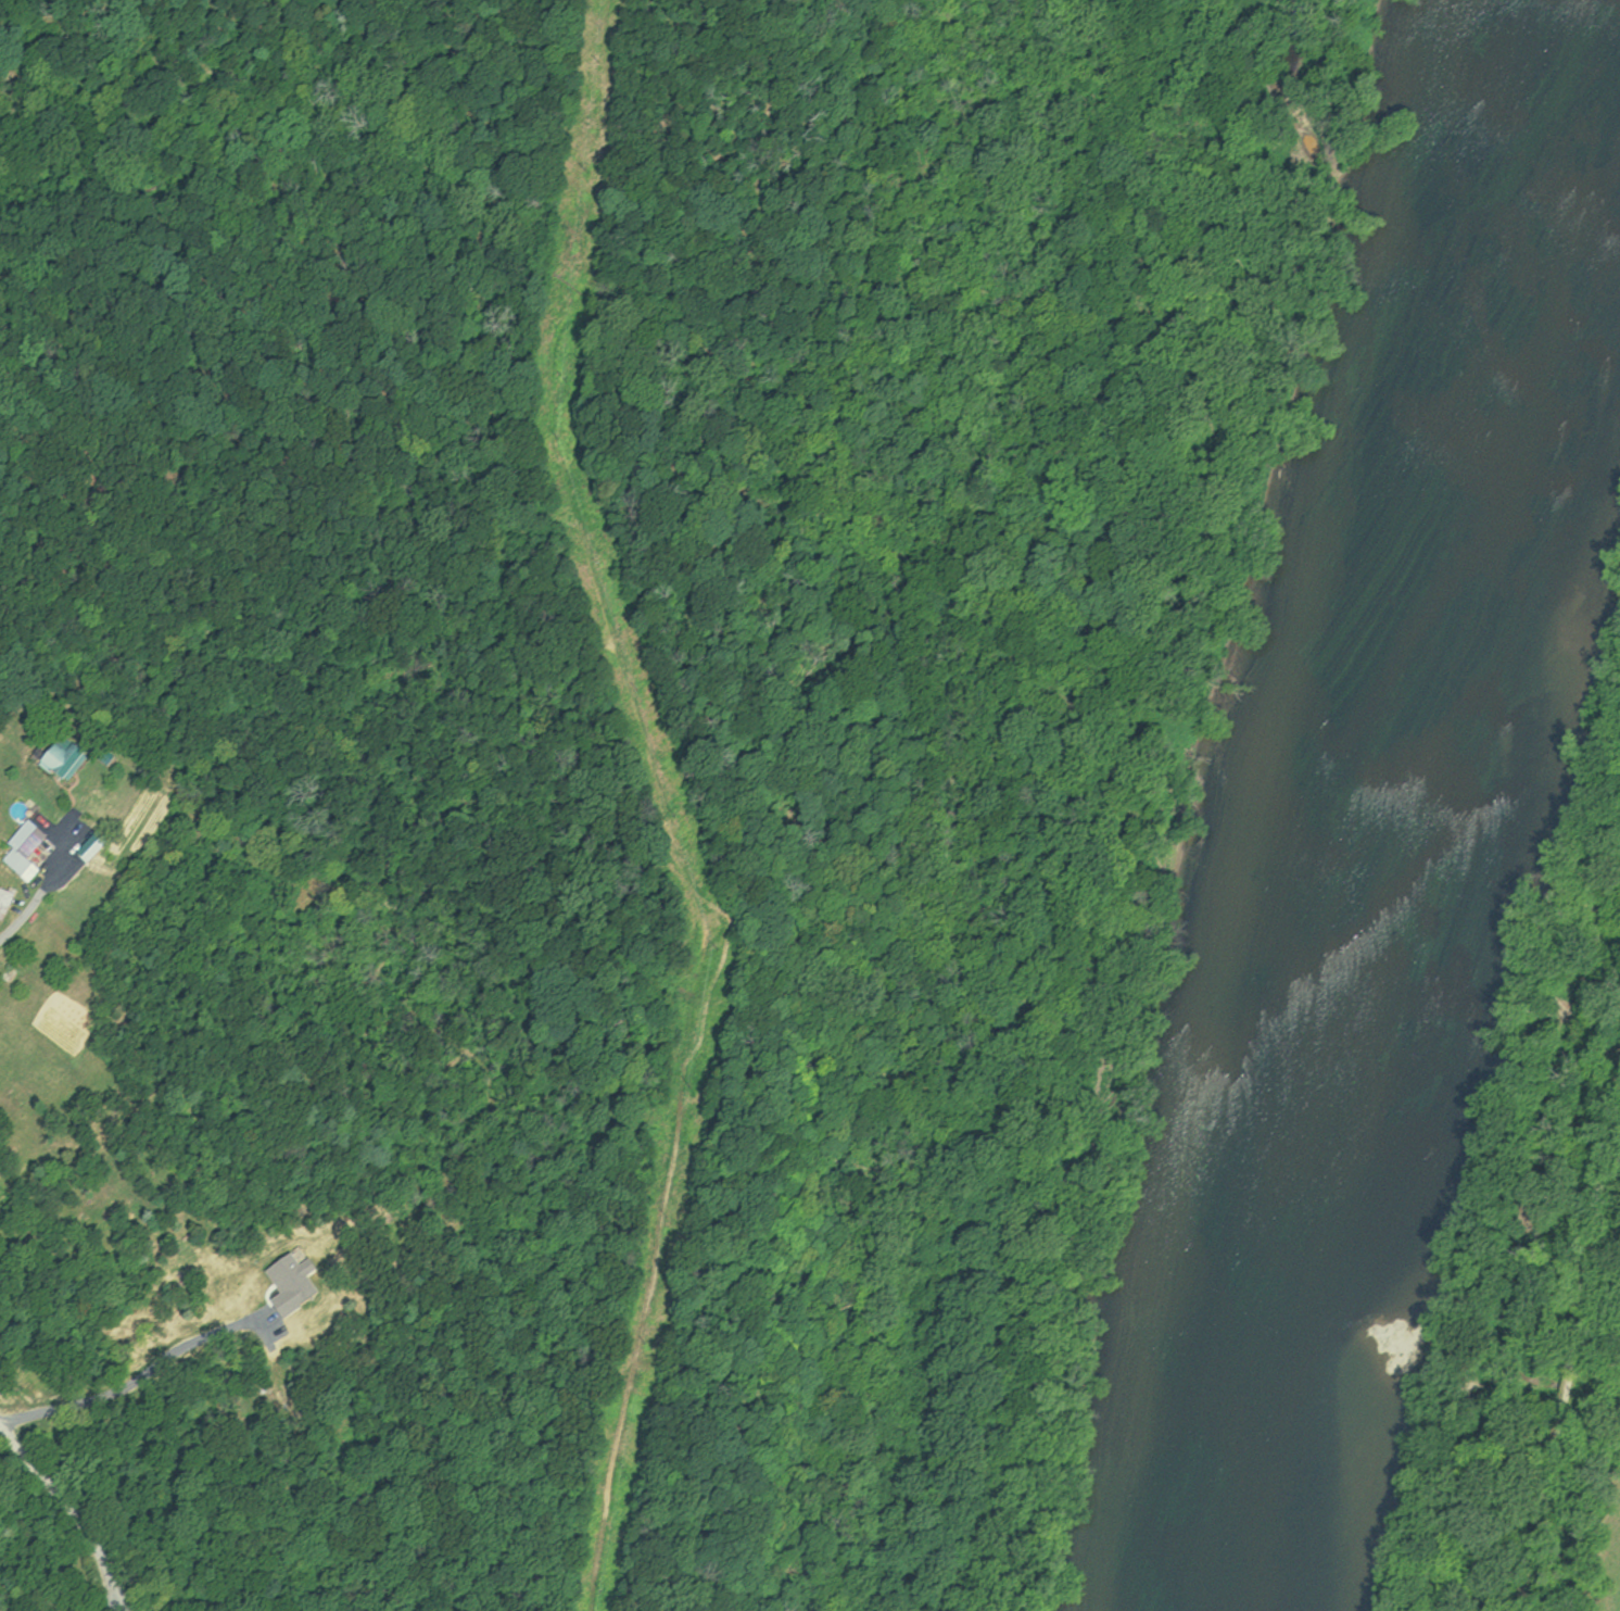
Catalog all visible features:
river: (1459, 463)
building: (69, 762)
building: (30, 848)
road: (39, 897)
river: (1266, 1267)
road: (1572, 1351)
road: (136, 1376)
road: (76, 1509)

